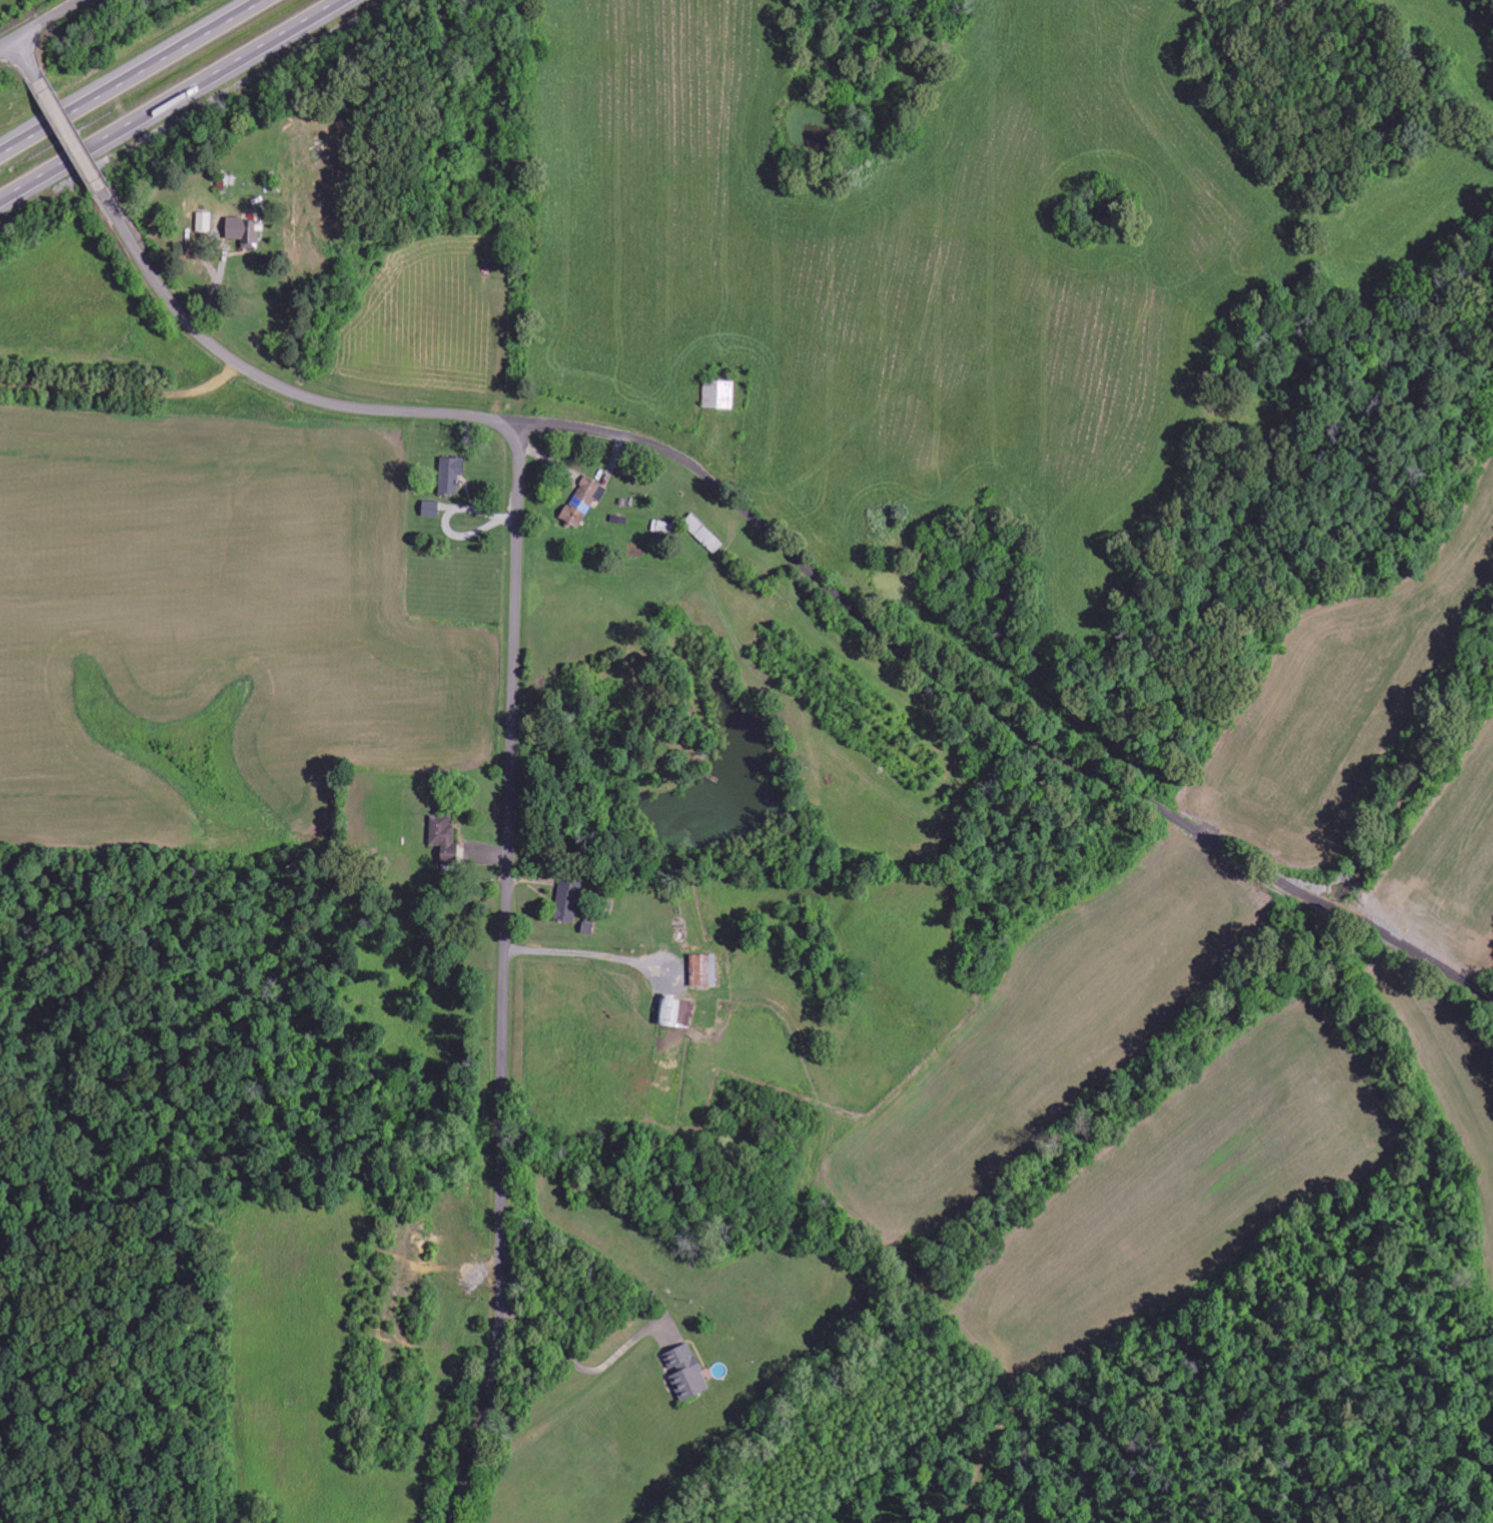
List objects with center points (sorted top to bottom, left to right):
road: (40, 23)
road: (27, 58)
road: (127, 74)
road: (173, 101)
road: (70, 133)
building: (204, 221)
building: (244, 231)
road: (267, 378)
road: (127, 388)
building: (718, 394)
building: (450, 475)
building: (582, 503)
building: (431, 509)
building: (703, 533)
road: (996, 713)
building: (444, 835)
building: (568, 899)
building: (703, 969)
road: (507, 975)
building: (676, 1011)
building: (685, 1371)

